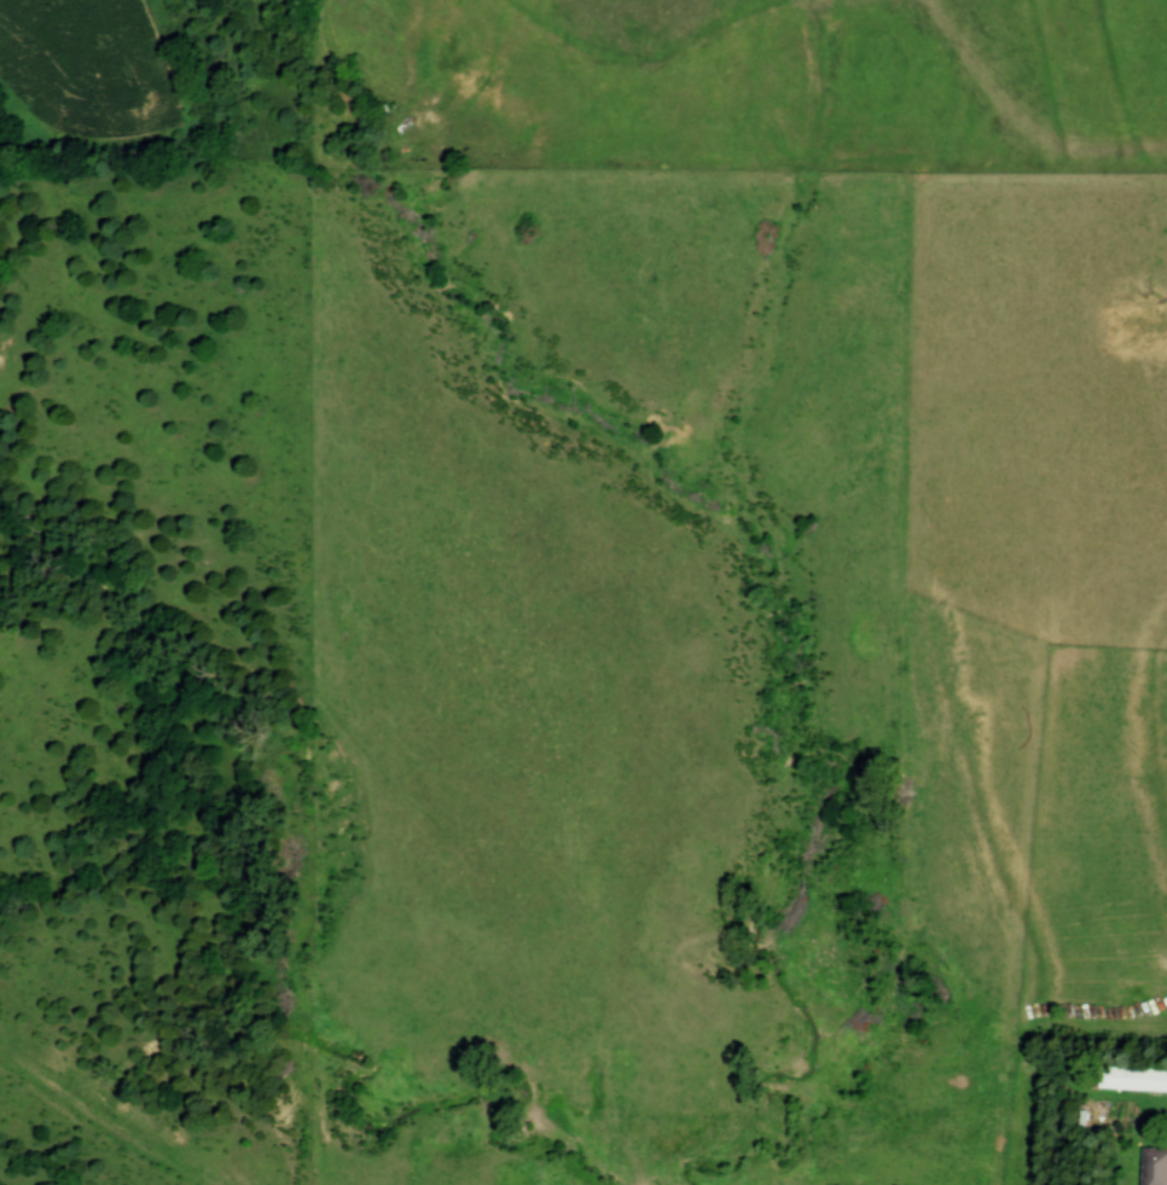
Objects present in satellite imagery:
building: (1133, 1079)
building: (1154, 1167)

